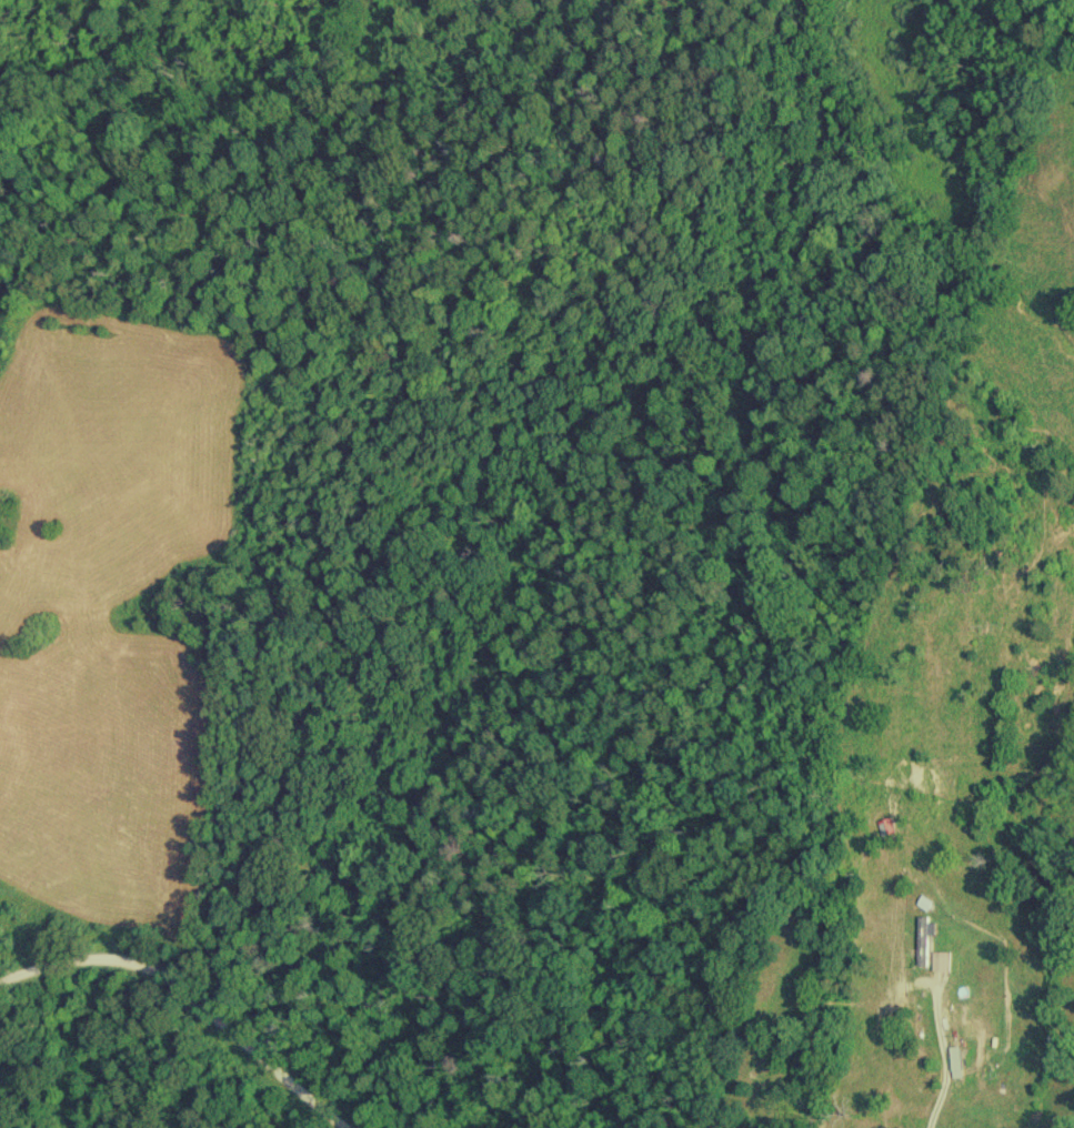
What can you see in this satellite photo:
road: (189, 995)
road: (944, 1057)

